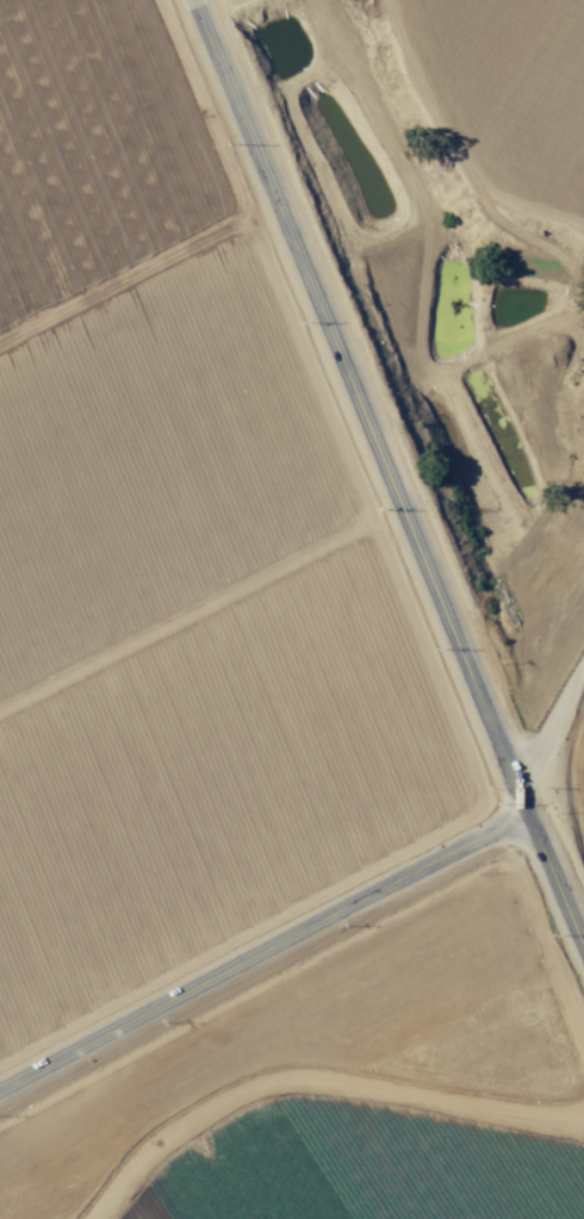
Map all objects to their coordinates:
road: (207, 2)
road: (386, 462)
crop: (292, 609)
road: (558, 744)
road: (266, 947)
road: (391, 1169)

